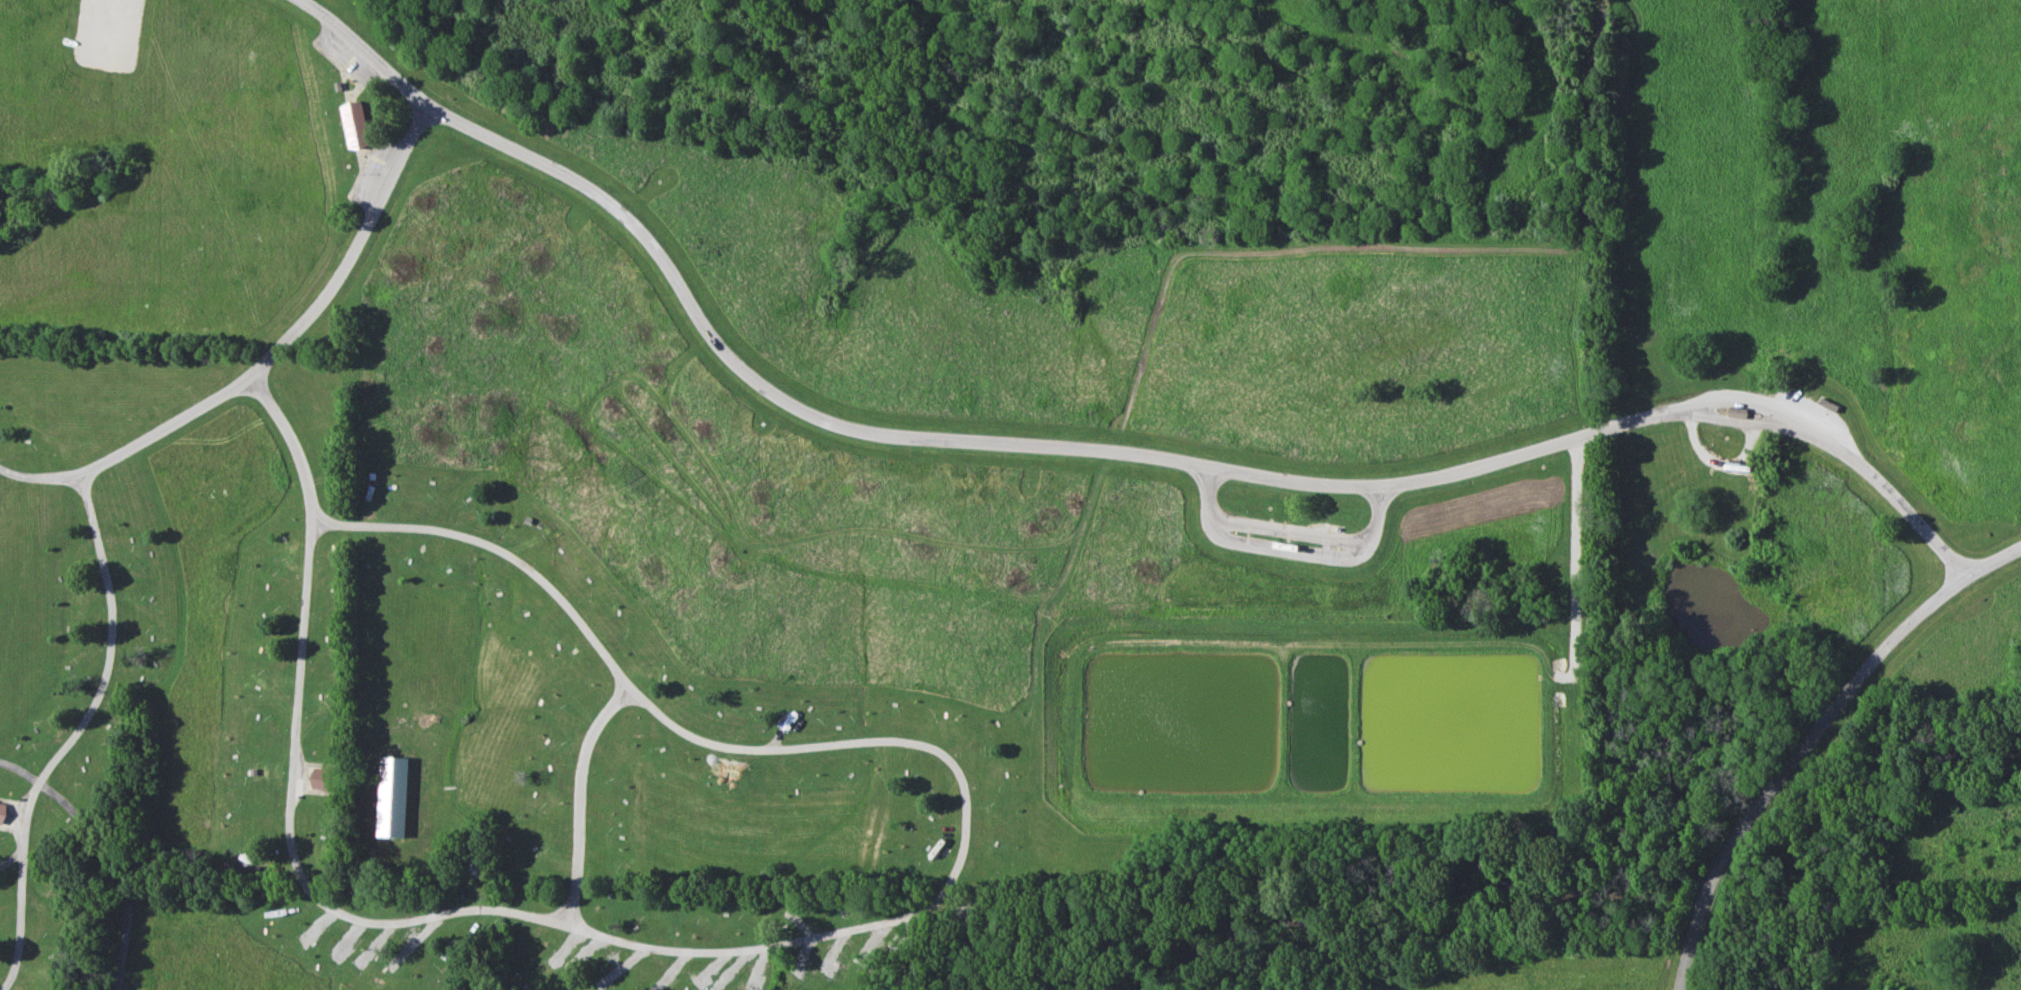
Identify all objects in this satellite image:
parking lot: (108, 34)
building: (356, 124)
road: (1584, 132)
road: (974, 297)
road: (293, 334)
road: (1765, 401)
building: (1828, 407)
building: (1739, 413)
road: (1761, 425)
road: (920, 436)
road: (294, 445)
park: (1010, 495)
road: (1901, 505)
road: (1292, 541)
road: (1992, 561)
road: (1048, 610)
road: (95, 701)
road: (1785, 759)
building: (393, 796)
road: (580, 801)
building: (2, 812)
road: (105, 855)
road: (874, 923)
crop: (1562, 978)

